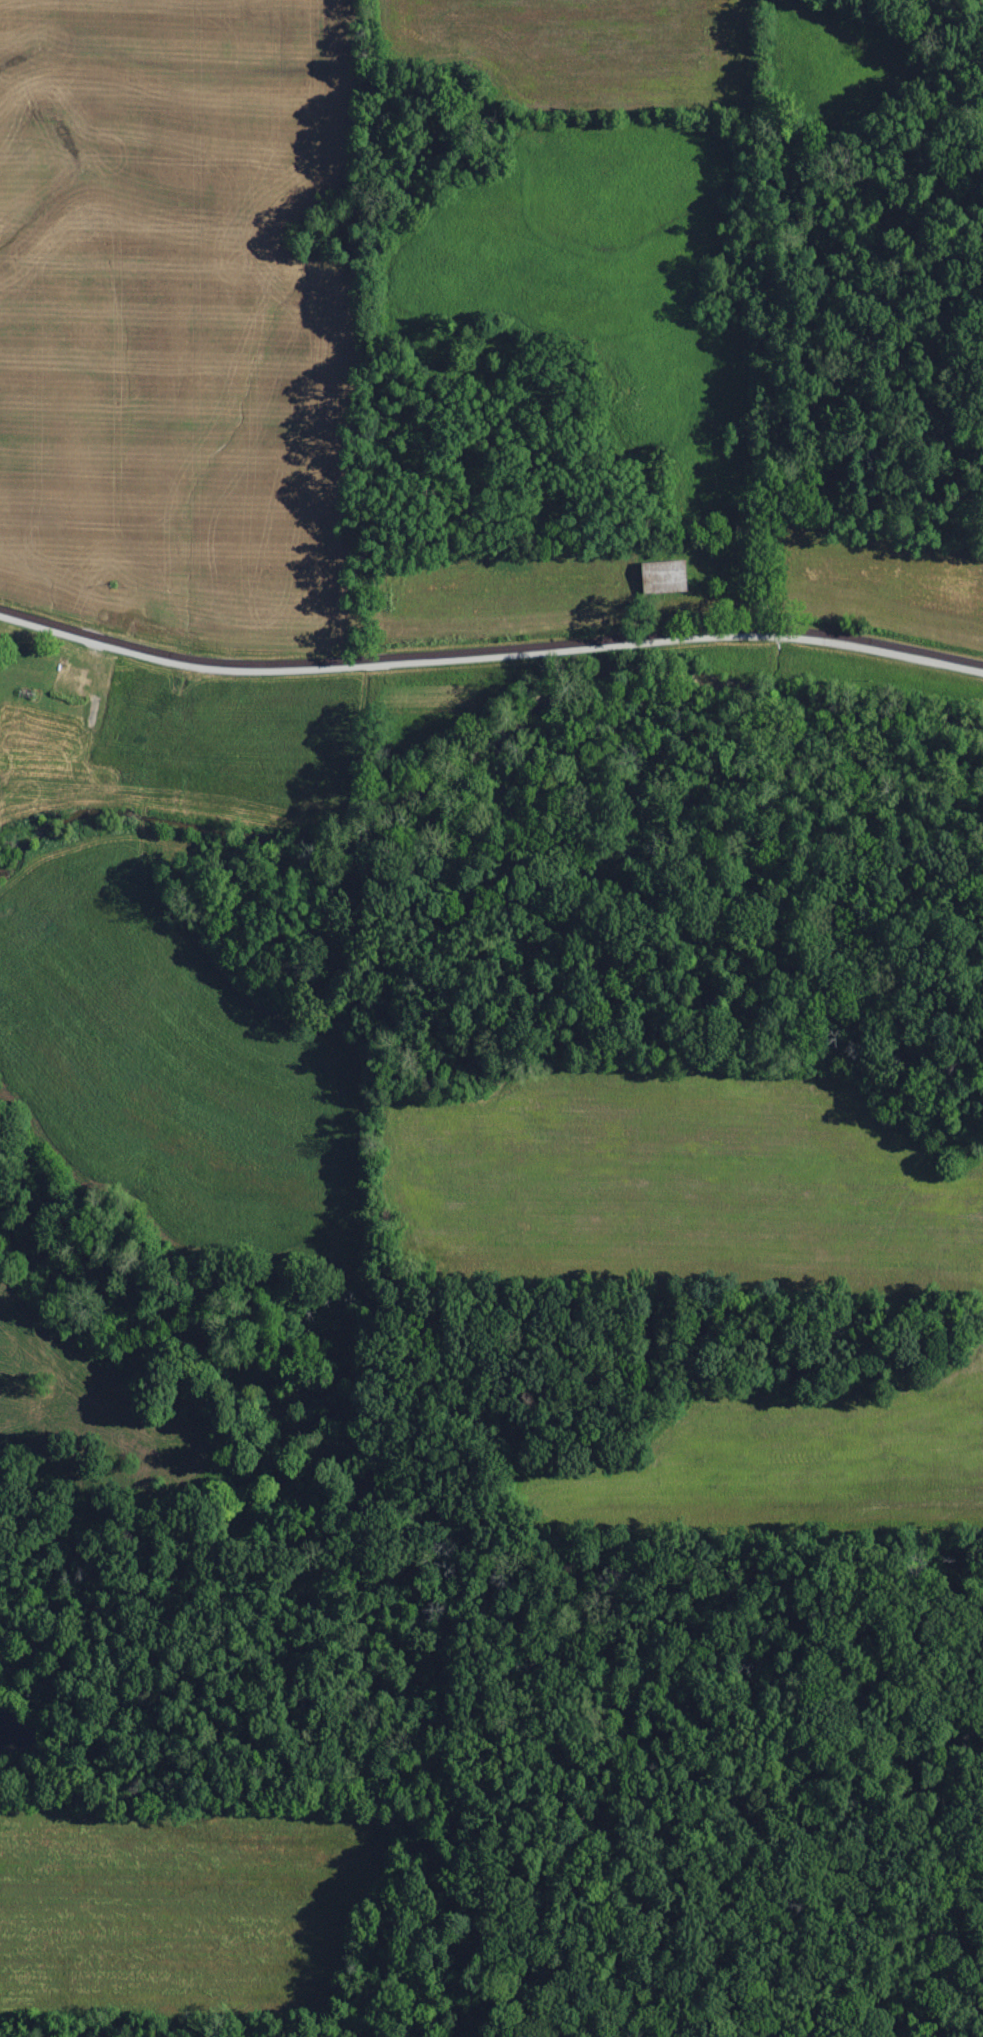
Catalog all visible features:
building: (664, 576)
road: (489, 651)

